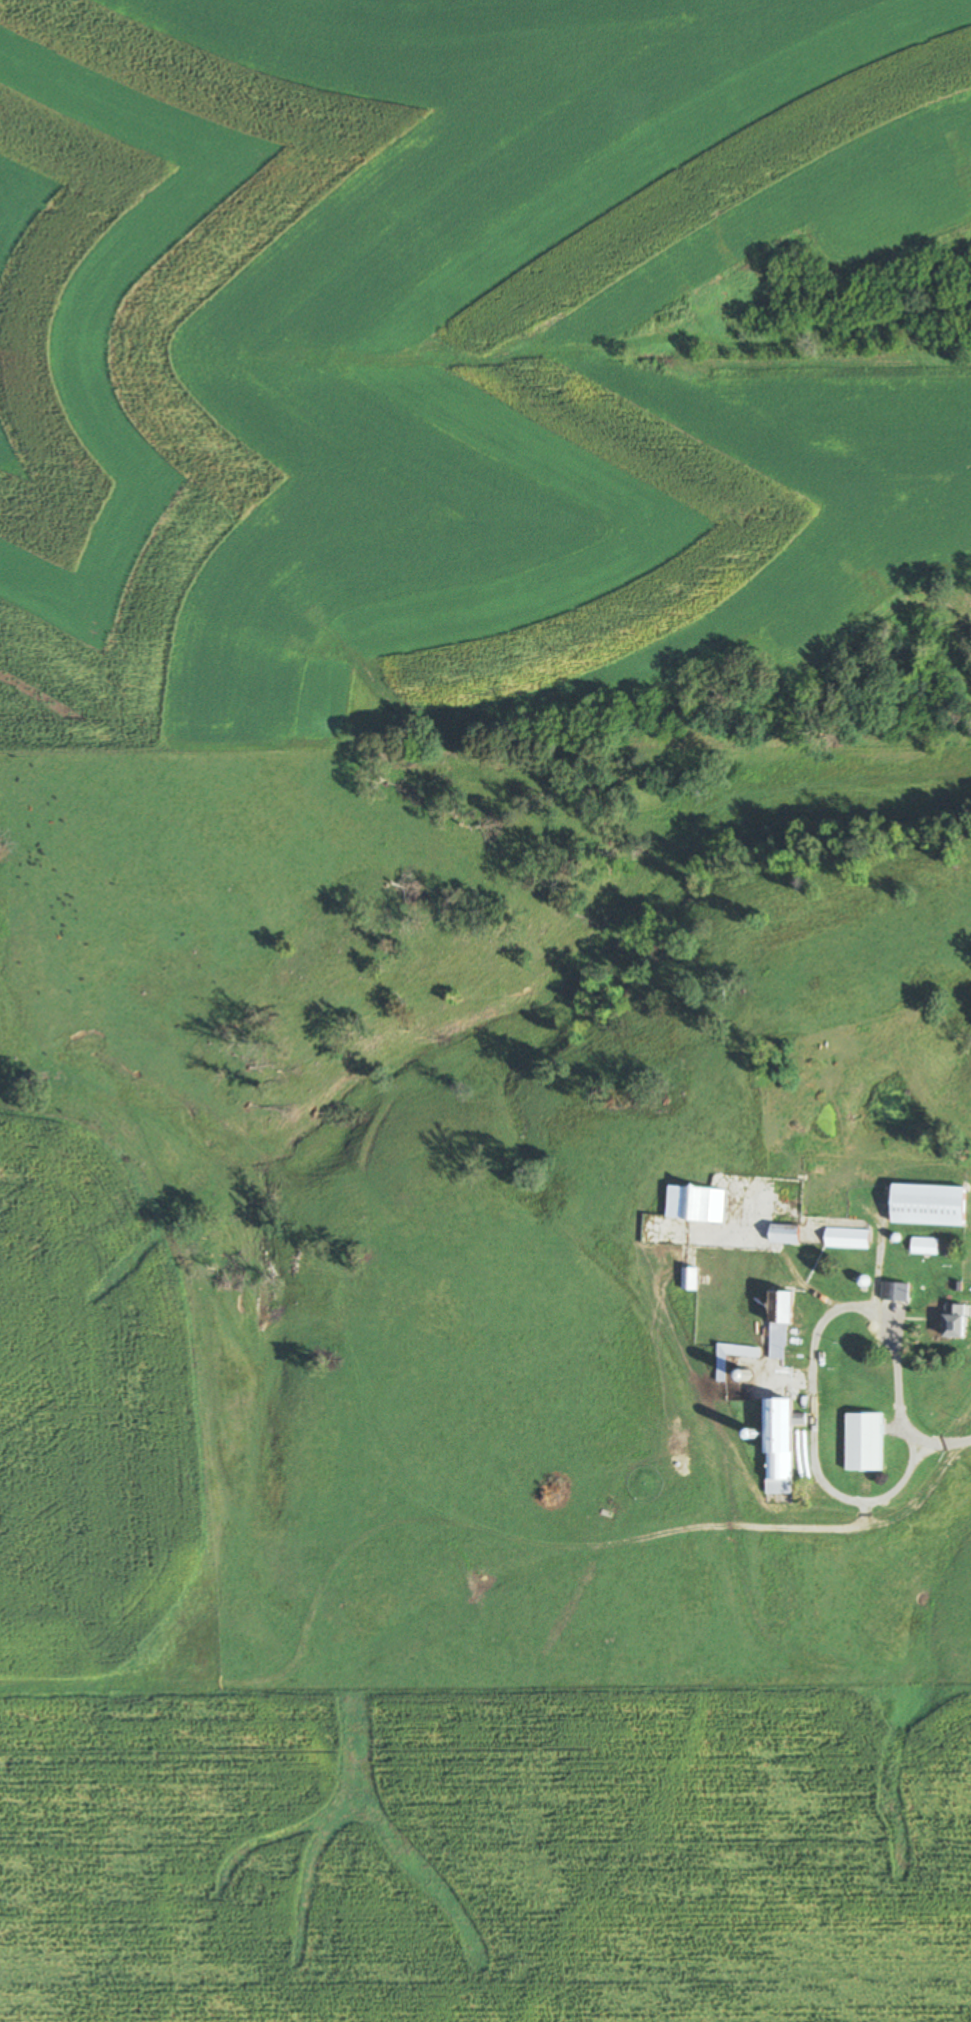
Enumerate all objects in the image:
building: (695, 1204)
building: (929, 1205)
building: (784, 1234)
building: (847, 1238)
building: (925, 1246)
building: (689, 1279)
building: (895, 1291)
building: (955, 1320)
building: (780, 1322)
building: (722, 1365)
road: (812, 1365)
building: (864, 1442)
road: (950, 1442)
building: (779, 1446)

